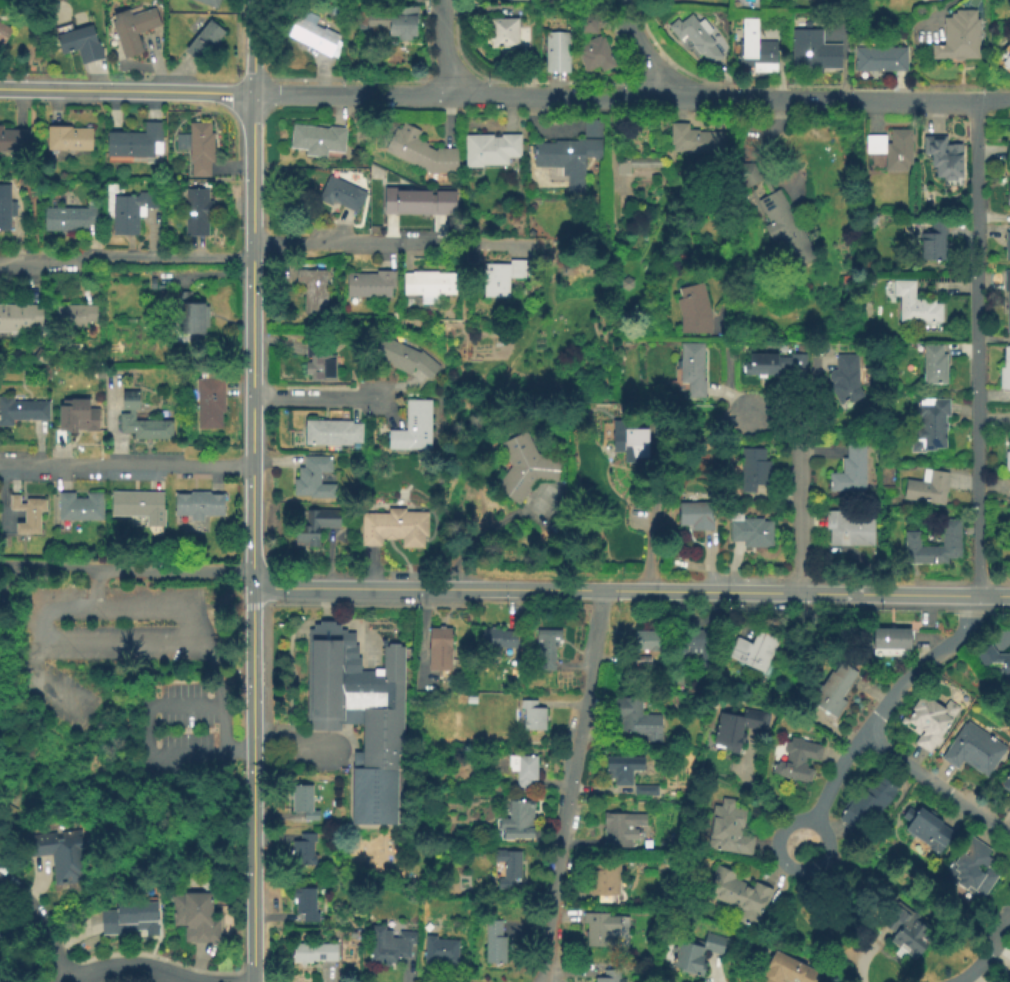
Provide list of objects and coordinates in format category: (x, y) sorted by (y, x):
building: (516, 0)
building: (935, 0)
building: (208, 3)
road: (932, 15)
building: (388, 20)
building: (587, 24)
building: (132, 29)
building: (4, 32)
building: (506, 33)
building: (316, 37)
building: (959, 37)
building: (697, 38)
road: (427, 39)
building: (203, 41)
building: (80, 44)
road: (250, 46)
road: (444, 48)
road: (647, 50)
building: (755, 50)
building: (556, 52)
building: (813, 52)
building: (594, 55)
building: (879, 59)
building: (1006, 61)
building: (531, 70)
road: (439, 78)
road: (350, 80)
road: (272, 86)
road: (429, 87)
road: (125, 89)
road: (349, 94)
road: (713, 96)
road: (993, 100)
building: (591, 127)
building: (67, 139)
building: (318, 140)
building: (697, 140)
building: (14, 142)
building: (136, 142)
building: (196, 149)
building: (892, 149)
building: (1009, 149)
building: (489, 150)
building: (420, 152)
building: (944, 156)
building: (567, 160)
building: (637, 163)
building: (1008, 191)
building: (341, 193)
building: (417, 201)
building: (129, 212)
building: (196, 212)
building: (11, 213)
building: (777, 217)
building: (69, 219)
road: (356, 241)
building: (933, 242)
building: (1006, 246)
road: (125, 256)
building: (500, 279)
building: (370, 284)
building: (428, 285)
building: (312, 291)
building: (1007, 295)
building: (914, 305)
building: (693, 310)
building: (74, 315)
building: (191, 316)
building: (19, 318)
road: (251, 339)
road: (977, 349)
road: (725, 351)
building: (403, 358)
building: (317, 360)
building: (933, 365)
building: (773, 366)
building: (692, 369)
building: (1004, 372)
building: (844, 381)
road: (314, 396)
road: (730, 398)
building: (209, 399)
building: (21, 411)
building: (77, 417)
building: (140, 421)
building: (691, 423)
building: (929, 426)
building: (412, 428)
building: (331, 432)
building: (635, 443)
building: (1007, 457)
road: (125, 462)
building: (524, 468)
building: (753, 471)
building: (850, 472)
building: (313, 480)
road: (799, 484)
building: (927, 489)
building: (137, 502)
building: (198, 505)
building: (79, 508)
building: (27, 514)
building: (696, 517)
building: (1009, 519)
building: (314, 528)
building: (393, 529)
road: (647, 531)
building: (849, 531)
building: (750, 533)
building: (949, 541)
road: (3, 563)
road: (51, 565)
road: (132, 569)
road: (208, 570)
road: (96, 586)
road: (360, 586)
road: (739, 590)
road: (147, 604)
building: (499, 639)
building: (645, 643)
building: (891, 644)
road: (128, 646)
building: (694, 646)
building: (439, 650)
building: (547, 650)
building: (753, 653)
building: (994, 661)
road: (918, 662)
building: (641, 663)
parking lot: (184, 689)
building: (832, 693)
building: (359, 717)
building: (532, 717)
building: (635, 720)
building: (928, 722)
building: (732, 727)
road: (146, 736)
building: (973, 749)
road: (291, 750)
building: (797, 760)
building: (622, 770)
building: (522, 771)
road: (831, 774)
building: (1007, 783)
road: (251, 784)
road: (935, 784)
road: (570, 785)
building: (639, 791)
building: (1009, 795)
building: (303, 803)
building: (867, 803)
building: (516, 821)
building: (622, 828)
building: (727, 828)
building: (927, 829)
building: (302, 851)
building: (58, 855)
road: (789, 867)
building: (507, 868)
building: (972, 869)
building: (603, 878)
building: (740, 896)
building: (304, 904)
building: (194, 918)
building: (129, 920)
road: (38, 925)
building: (599, 928)
building: (904, 930)
building: (494, 943)
building: (387, 945)
building: (2, 950)
road: (987, 951)
building: (439, 952)
building: (313, 953)
building: (694, 953)
road: (858, 956)
road: (129, 968)
building: (787, 970)
building: (1008, 974)
building: (609, 976)

